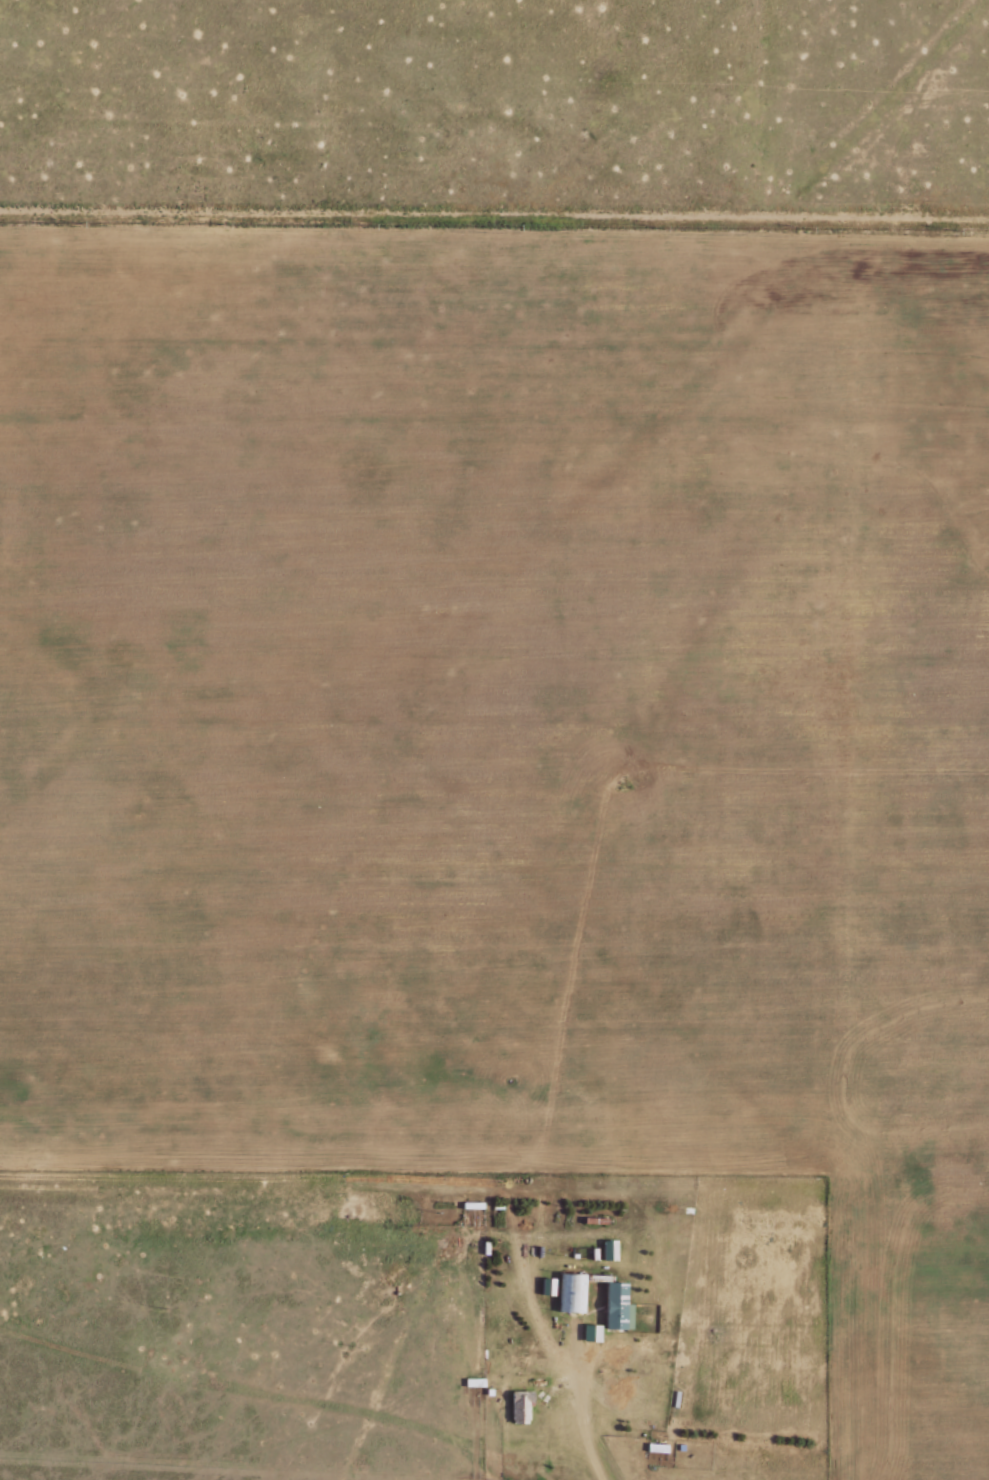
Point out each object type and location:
building: (572, 1292)
road: (606, 1444)

